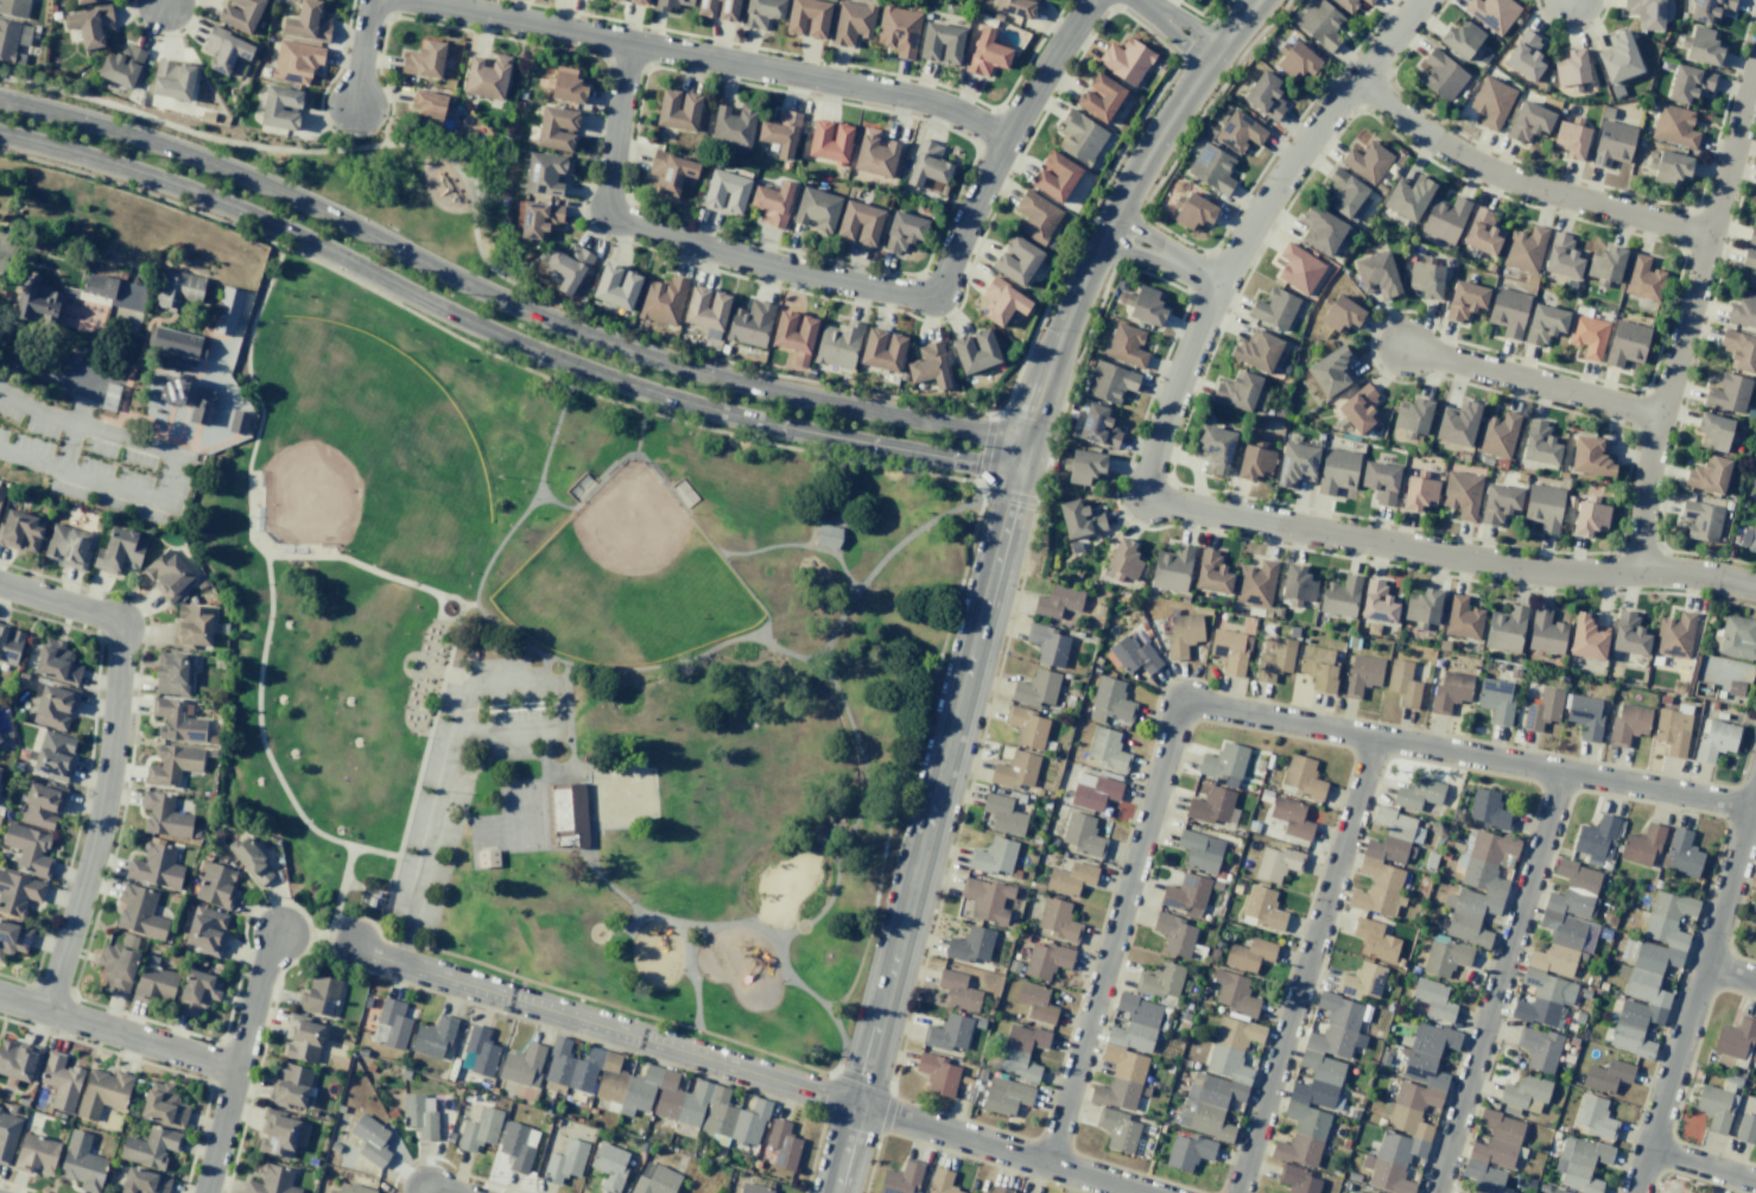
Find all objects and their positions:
building: (83, 1)
building: (636, 1)
building: (1367, 1)
road: (165, 2)
building: (659, 5)
building: (1346, 5)
building: (14, 7)
building: (1015, 7)
building: (717, 8)
building: (1709, 9)
building: (761, 12)
building: (1491, 13)
building: (1644, 13)
building: (240, 14)
building: (806, 18)
building: (308, 23)
building: (850, 23)
building: (1319, 24)
building: (89, 25)
road: (1174, 28)
building: (898, 31)
building: (1460, 38)
building: (9, 39)
building: (940, 43)
building: (1701, 46)
building: (224, 50)
building: (985, 53)
road: (367, 55)
building: (1524, 56)
building: (1618, 57)
road: (708, 58)
building: (424, 59)
building: (1126, 61)
building: (1295, 61)
building: (294, 62)
building: (120, 66)
building: (1571, 69)
building: (1441, 76)
building: (486, 77)
building: (172, 80)
building: (1688, 83)
building: (566, 85)
building: (1264, 95)
building: (1098, 97)
building: (1491, 102)
building: (427, 104)
building: (280, 107)
building: (678, 109)
building: (1528, 121)
building: (731, 126)
building: (1674, 126)
building: (556, 128)
building: (780, 132)
building: (1238, 132)
building: (1079, 137)
building: (829, 141)
building: (1612, 142)
building: (874, 154)
building: (1367, 161)
building: (927, 164)
building: (1211, 167)
building: (1668, 167)
building: (670, 172)
building: (545, 173)
building: (1053, 176)
road: (1522, 183)
park: (399, 185)
building: (725, 191)
building: (1346, 196)
building: (1408, 197)
building: (772, 203)
building: (816, 210)
building: (1192, 211)
building: (1035, 216)
building: (539, 218)
building: (1444, 218)
building: (858, 222)
building: (1320, 230)
building: (902, 231)
road: (1253, 233)
building: (1481, 233)
building: (1751, 234)
building: (1524, 249)
building: (1561, 256)
building: (1015, 260)
road: (1165, 260)
building: (1605, 264)
building: (568, 267)
building: (1750, 267)
building: (1298, 268)
road: (376, 274)
building: (1376, 274)
building: (1643, 279)
road: (850, 283)
building: (615, 286)
building: (176, 290)
building: (661, 300)
building: (1464, 300)
building: (1001, 302)
road: (505, 303)
building: (1143, 305)
building: (34, 309)
building: (1274, 309)
building: (226, 310)
building: (705, 310)
building: (1743, 310)
building: (1508, 311)
building: (1340, 313)
road: (1686, 317)
building: (749, 323)
building: (1543, 324)
building: (793, 335)
building: (1587, 336)
building: (176, 342)
building: (1625, 343)
building: (837, 344)
building: (1126, 345)
building: (881, 349)
building: (975, 350)
building: (1256, 350)
building: (1739, 350)
building: (928, 366)
building: (1330, 372)
road: (87, 377)
road: (1530, 379)
building: (1109, 382)
road: (80, 387)
building: (172, 389)
building: (1240, 392)
building: (1728, 393)
building: (201, 405)
building: (1358, 408)
building: (1412, 415)
building: (237, 421)
building: (1457, 424)
building: (1097, 426)
road: (93, 429)
building: (1714, 431)
road: (638, 432)
building: (1496, 434)
road: (740, 436)
road: (550, 438)
park: (362, 443)
building: (1539, 443)
road: (887, 446)
building: (1213, 449)
building: (1590, 456)
building: (1254, 462)
building: (1295, 464)
building: (1083, 467)
building: (1337, 470)
building: (1707, 475)
building: (1380, 481)
building: (1755, 481)
road: (104, 484)
building: (0, 488)
road: (590, 490)
road: (842, 490)
building: (1419, 491)
building: (1460, 494)
building: (1498, 503)
building: (1543, 507)
building: (1079, 518)
building: (1701, 520)
road: (812, 523)
building: (20, 531)
road: (841, 535)
building: (826, 537)
building: (1749, 538)
road: (709, 542)
road: (499, 544)
building: (68, 545)
road: (797, 545)
building: (119, 551)
road: (1451, 558)
road: (265, 560)
building: (1123, 560)
road: (355, 564)
building: (1171, 569)
road: (994, 573)
building: (1211, 573)
building: (167, 575)
park: (623, 578)
building: (1255, 584)
building: (1297, 584)
building: (1339, 596)
building: (1057, 601)
building: (1377, 603)
road: (467, 604)
building: (1422, 605)
road: (458, 610)
building: (1462, 618)
building: (0, 621)
building: (192, 624)
building: (1504, 629)
building: (1181, 633)
building: (1545, 633)
building: (1629, 634)
building: (1674, 635)
building: (1587, 637)
building: (1737, 637)
road: (767, 642)
building: (1047, 643)
building: (9, 647)
building: (1229, 651)
building: (1133, 655)
building: (1274, 658)
building: (56, 661)
park: (560, 666)
building: (1318, 667)
road: (813, 670)
building: (171, 673)
building: (1361, 674)
road: (459, 675)
building: (1402, 683)
road: (557, 690)
building: (1035, 690)
building: (1448, 691)
building: (1110, 699)
building: (1496, 699)
building: (53, 706)
building: (1542, 709)
road: (1235, 712)
building: (1584, 716)
road: (569, 717)
building: (177, 719)
building: (1628, 722)
building: (1026, 725)
building: (1672, 729)
building: (0, 740)
building: (1714, 740)
building: (1105, 749)
building: (53, 755)
road: (110, 755)
road: (509, 757)
road: (420, 762)
building: (1222, 762)
building: (171, 764)
building: (1015, 770)
building: (1301, 778)
building: (1092, 791)
building: (1418, 793)
building: (40, 805)
building: (1210, 806)
building: (1488, 810)
park: (522, 814)
building: (1002, 814)
building: (163, 816)
building: (565, 816)
building: (1291, 817)
building: (1080, 835)
building: (1596, 836)
building: (1643, 845)
parking lot: (426, 846)
road: (429, 846)
building: (28, 849)
building: (1199, 850)
road: (374, 851)
building: (1681, 853)
building: (486, 857)
building: (993, 857)
building: (251, 861)
building: (1384, 862)
building: (1276, 863)
building: (154, 867)
road: (842, 868)
building: (1070, 878)
building: (215, 886)
building: (1477, 886)
building: (19, 893)
building: (1185, 893)
building: (985, 899)
road: (336, 903)
road: (630, 906)
building: (1261, 909)
building: (139, 912)
building: (1057, 919)
road: (736, 924)
building: (1755, 927)
building: (205, 929)
road: (630, 931)
road: (302, 933)
building: (1175, 933)
road: (383, 934)
road: (591, 937)
building: (14, 938)
building: (1375, 940)
building: (970, 945)
building: (1559, 947)
building: (1249, 954)
building: (1445, 957)
building: (1045, 958)
road: (1307, 965)
building: (116, 969)
building: (1650, 972)
road: (1730, 975)
building: (1159, 979)
building: (1362, 981)
road: (1498, 983)
building: (154, 984)
building: (957, 990)
building: (197, 992)
building: (1232, 992)
building: (319, 996)
road: (1694, 996)
building: (1433, 998)
building: (1034, 1001)
road: (623, 1008)
building: (391, 1024)
road: (118, 1032)
building: (947, 1033)
building: (1236, 1033)
building: (432, 1036)
building: (1735, 1037)
building: (302, 1040)
building: (1539, 1048)
building: (1020, 1051)
building: (477, 1052)
building: (1127, 1052)
building: (18, 1060)
building: (1754, 1060)
road: (237, 1061)
building: (522, 1065)
road: (744, 1071)
building: (937, 1073)
road: (850, 1075)
building: (1606, 1075)
building: (61, 1080)
building: (1319, 1080)
building: (290, 1085)
building: (1218, 1091)
building: (1524, 1091)
building: (102, 1092)
building: (654, 1093)
building: (1006, 1096)
building: (163, 1105)
building: (1714, 1108)
building: (1410, 1109)
building: (419, 1113)
building: (1593, 1117)
building: (1747, 1128)
building: (478, 1130)
building: (1117, 1130)
building: (279, 1134)
building: (6, 1140)
building: (369, 1140)
building: (782, 1144)
building: (150, 1147)
building: (1187, 1151)
building: (1492, 1151)
building: (36, 1154)
building: (81, 1162)
building: (564, 1162)
building: (609, 1166)
building: (1579, 1166)
road: (1703, 1167)
building: (901, 1178)
building: (1297, 1179)
building: (654, 1180)
building: (142, 1181)
building: (271, 1181)
building: (942, 1181)
building: (350, 1188)
building: (753, 1188)
building: (1000, 1189)
road: (439, 1191)
building: (1355, 1192)
building: (1369, 1192)
building: (1456, 1192)
building: (1687, 1192)

